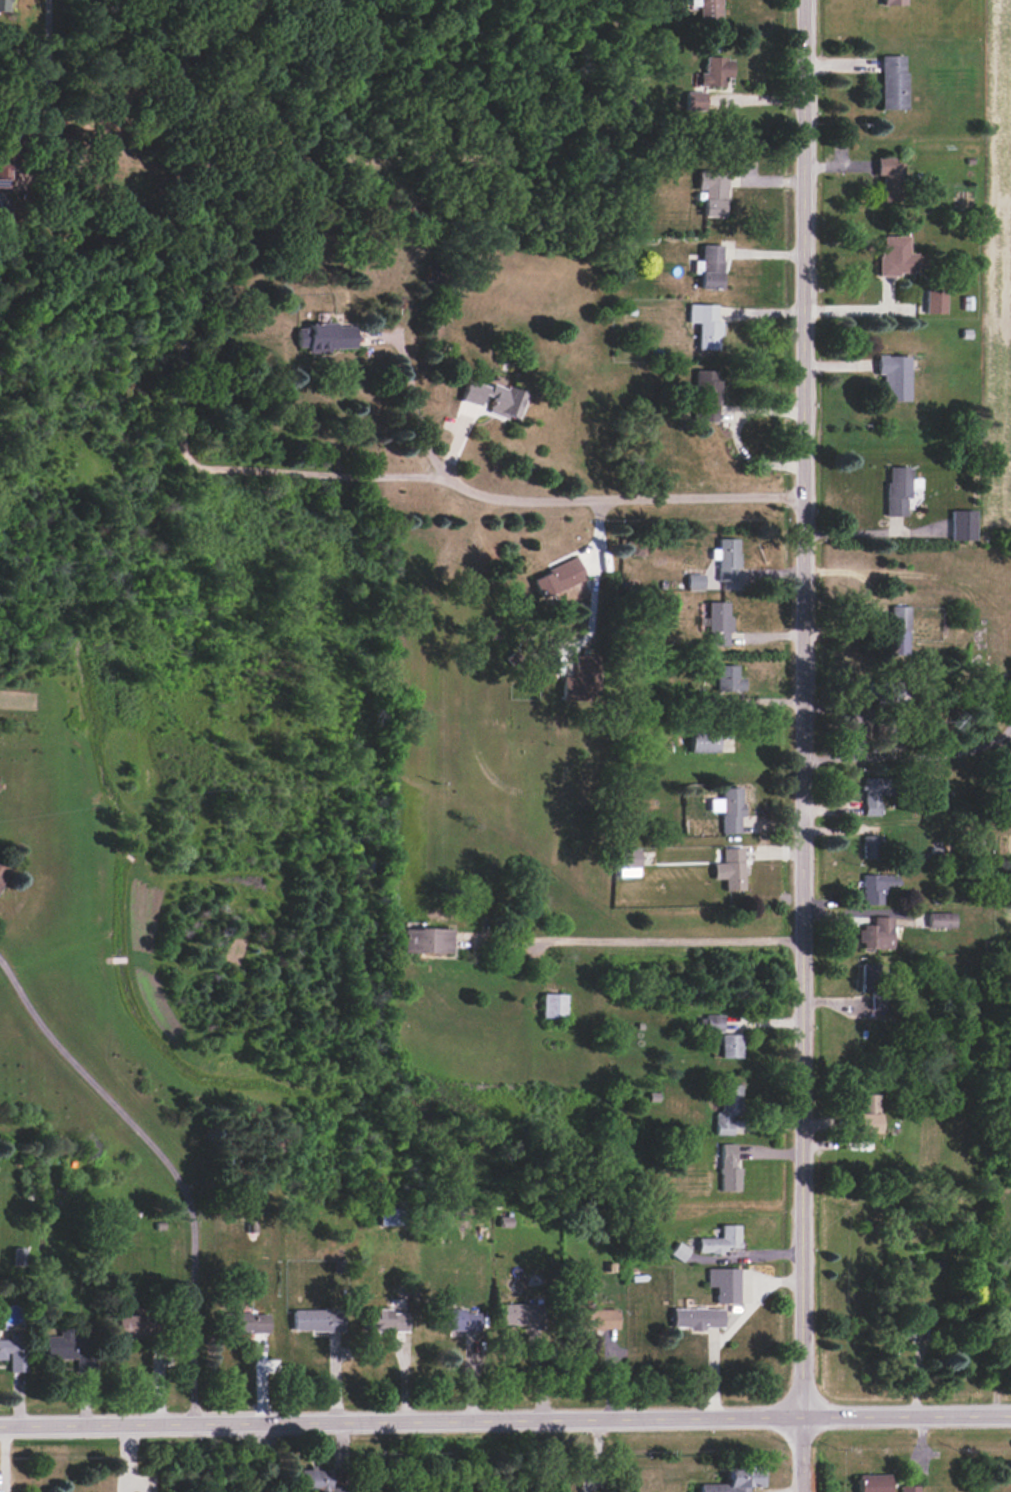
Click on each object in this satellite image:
building: (892, 2)
building: (4, 5)
building: (714, 71)
building: (892, 82)
building: (695, 99)
building: (4, 164)
building: (889, 178)
building: (712, 192)
building: (624, 247)
building: (895, 256)
building: (708, 266)
building: (935, 301)
road: (859, 309)
building: (705, 325)
building: (326, 337)
building: (894, 377)
road: (416, 393)
building: (705, 395)
building: (494, 398)
road: (230, 469)
building: (897, 490)
building: (962, 525)
road: (868, 532)
building: (728, 560)
building: (694, 580)
building: (561, 582)
road: (873, 601)
building: (716, 623)
building: (899, 630)
building: (727, 679)
building: (582, 680)
building: (703, 741)
road: (804, 746)
road: (910, 757)
building: (872, 796)
building: (730, 809)
building: (871, 845)
building: (627, 858)
building: (730, 869)
building: (1, 875)
building: (877, 887)
building: (941, 919)
building: (876, 933)
building: (426, 940)
road: (632, 940)
building: (868, 976)
building: (877, 1003)
building: (553, 1005)
building: (713, 1022)
building: (731, 1046)
building: (728, 1108)
building: (868, 1113)
road: (166, 1163)
building: (729, 1168)
building: (387, 1216)
building: (721, 1240)
building: (680, 1251)
building: (654, 1253)
building: (724, 1284)
building: (520, 1315)
building: (696, 1317)
building: (595, 1319)
building: (316, 1320)
building: (384, 1320)
building: (456, 1320)
building: (916, 1321)
building: (245, 1323)
building: (134, 1326)
road: (733, 1330)
building: (66, 1343)
building: (13, 1351)
road: (505, 1417)
road: (595, 1455)
building: (315, 1480)
building: (737, 1480)
building: (872, 1483)
building: (908, 1488)

